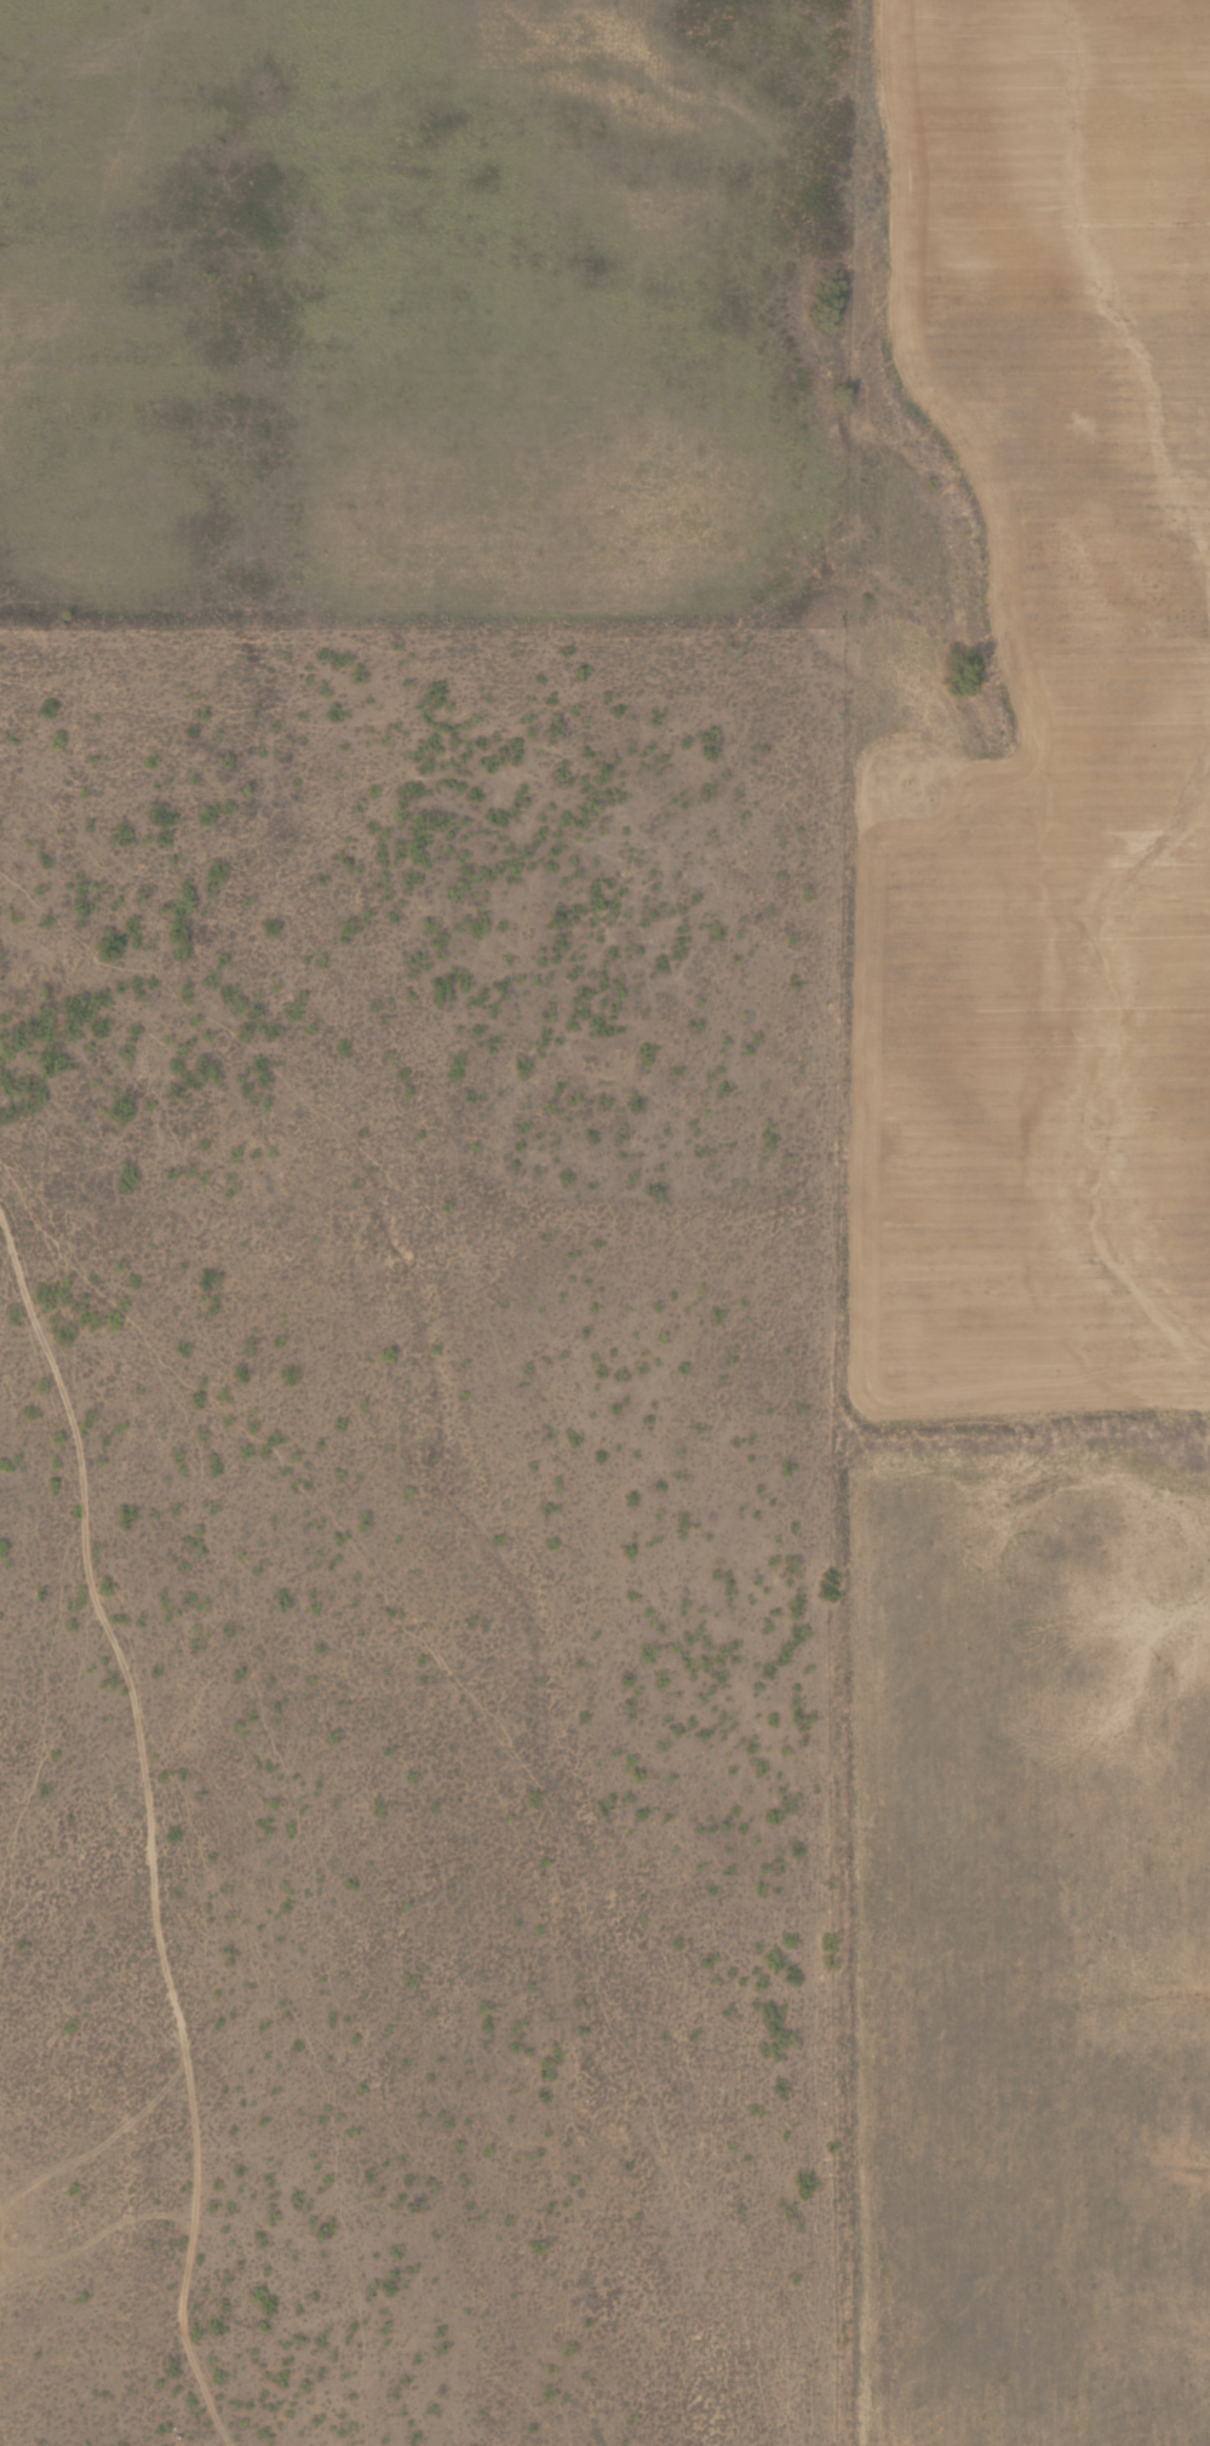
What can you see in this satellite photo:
road: (202, 1793)

